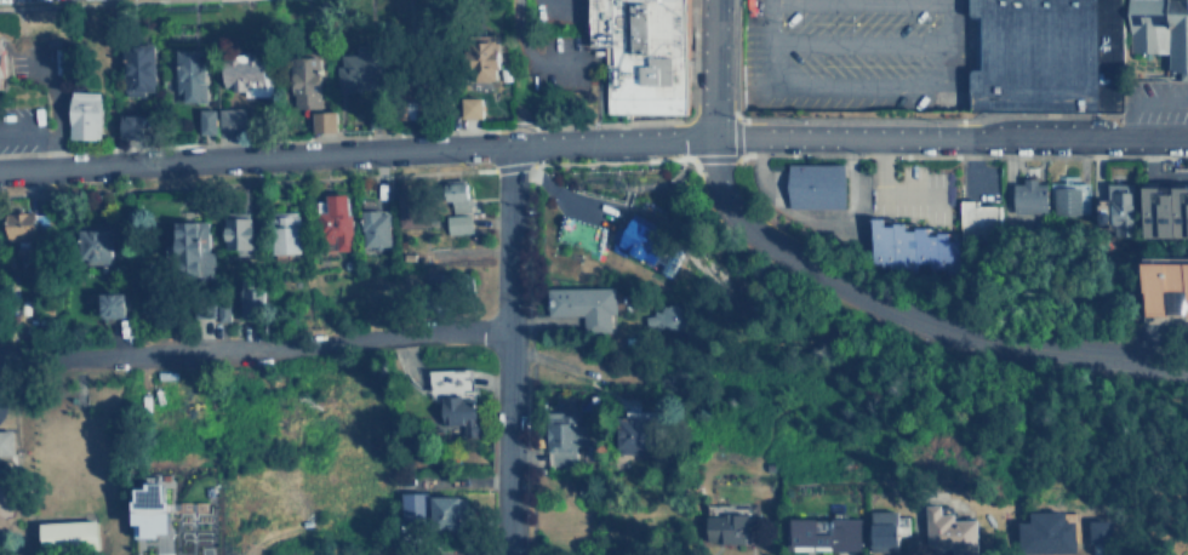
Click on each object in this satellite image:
road: (857, 1)
road: (767, 19)
building: (1160, 32)
road: (948, 44)
building: (640, 53)
parking lot: (841, 55)
building: (1043, 55)
building: (479, 56)
building: (2, 62)
road: (769, 64)
building: (135, 67)
road: (709, 68)
building: (359, 69)
building: (187, 75)
building: (241, 75)
building: (302, 82)
parking lot: (1153, 101)
road: (1140, 102)
building: (473, 107)
building: (81, 114)
building: (209, 121)
building: (230, 121)
building: (324, 121)
building: (130, 126)
road: (593, 141)
building: (818, 185)
building: (457, 196)
building: (1029, 196)
building: (1067, 199)
building: (1115, 208)
building: (411, 210)
building: (1165, 211)
building: (975, 217)
building: (336, 221)
building: (41, 222)
building: (458, 223)
building: (21, 225)
building: (372, 228)
building: (286, 231)
building: (238, 233)
building: (646, 241)
building: (95, 244)
building: (910, 247)
building: (193, 248)
building: (1166, 286)
building: (114, 303)
building: (242, 305)
building: (581, 305)
building: (664, 316)
road: (906, 319)
road: (252, 349)
road: (504, 349)
building: (453, 414)
building: (634, 428)
building: (560, 437)
building: (4, 441)
park: (68, 463)
building: (411, 503)
building: (154, 507)
road: (24, 509)
building: (441, 511)
building: (730, 526)
building: (828, 531)
building: (885, 531)
building: (949, 531)
building: (69, 532)
building: (1049, 532)
building: (1101, 537)

